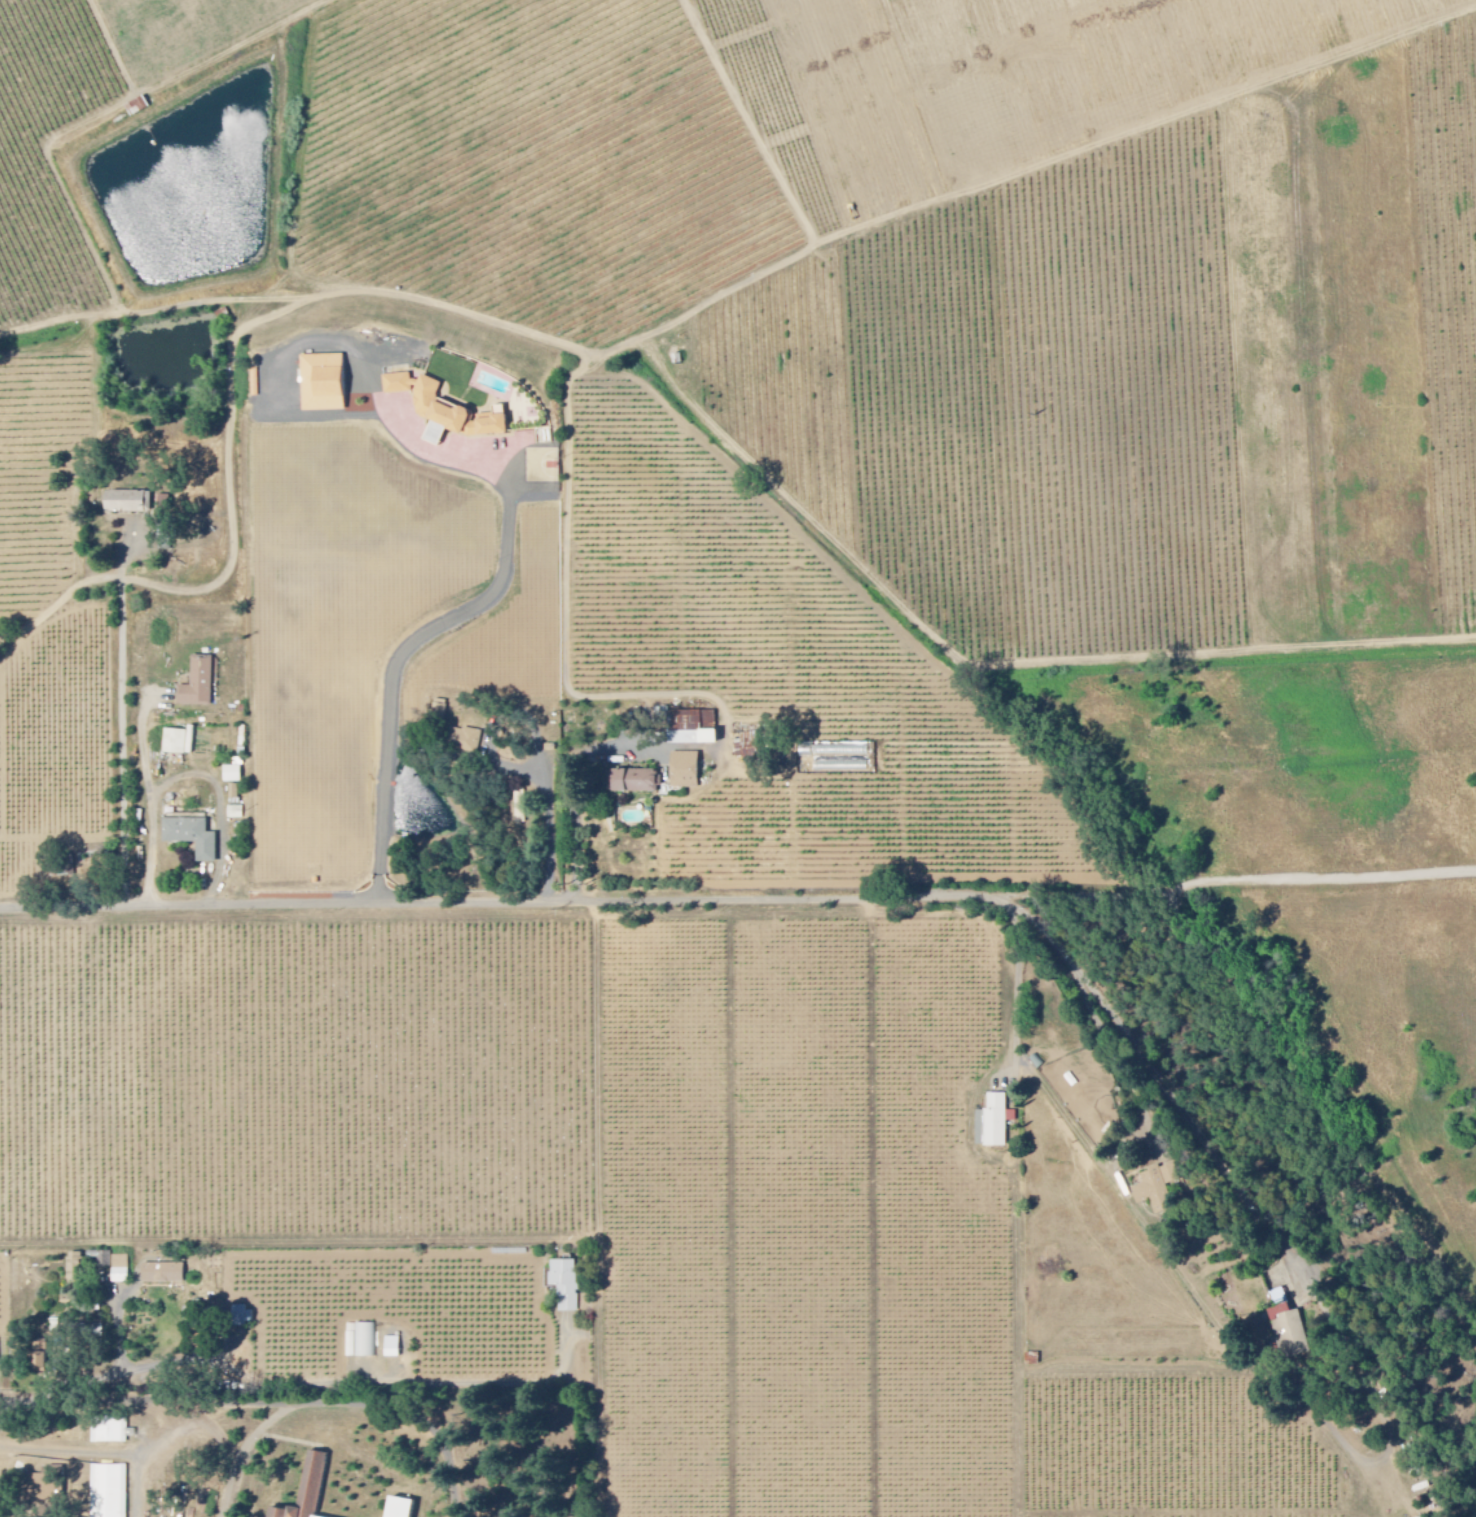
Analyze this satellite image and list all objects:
building: (322, 384)
building: (429, 406)
building: (489, 425)
building: (163, 501)
building: (128, 503)
road: (64, 606)
road: (391, 678)
building: (198, 683)
building: (694, 729)
building: (179, 741)
building: (470, 741)
road: (122, 745)
building: (747, 746)
road: (574, 761)
building: (685, 770)
building: (233, 775)
building: (633, 781)
building: (234, 792)
road: (548, 799)
building: (520, 807)
building: (192, 836)
road: (515, 905)
building: (996, 1121)
building: (1157, 1188)
road: (1250, 1191)
road: (1020, 1249)
building: (75, 1268)
building: (120, 1270)
building: (163, 1273)
building: (566, 1284)
building: (243, 1316)
building: (1288, 1328)
building: (362, 1342)
building: (39, 1347)
building: (392, 1348)
building: (38, 1364)
road: (311, 1388)
road: (347, 1404)
road: (145, 1405)
building: (111, 1431)
road: (214, 1437)
park: (529, 1470)
building: (308, 1488)
building: (108, 1490)
building: (403, 1507)

